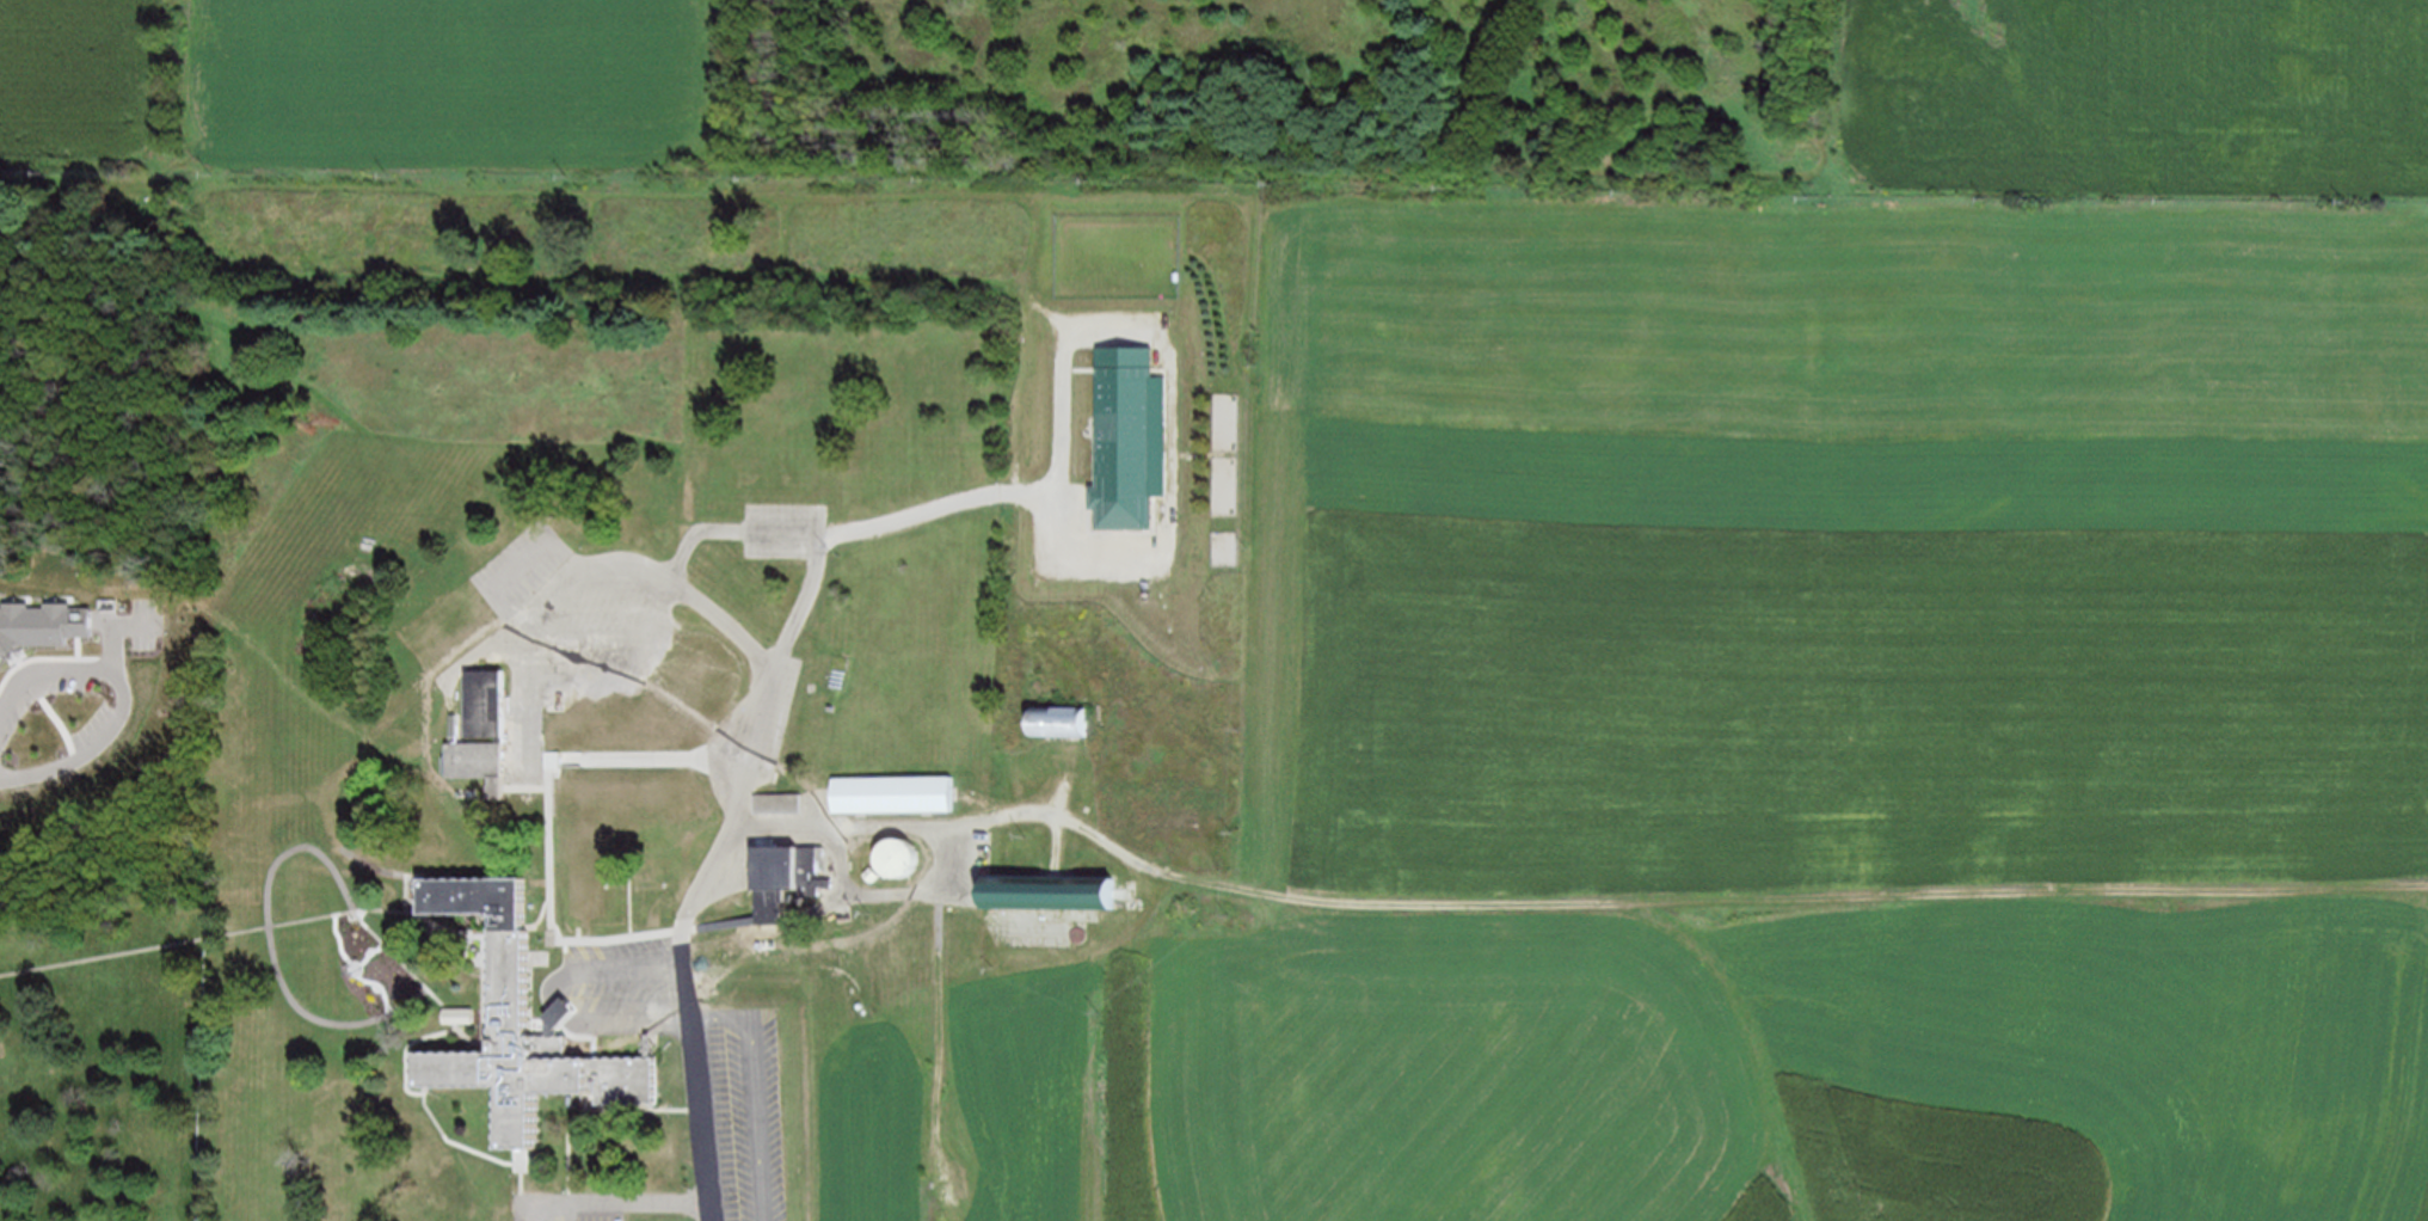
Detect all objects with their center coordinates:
park: (112, 197)
building: (1125, 438)
road: (877, 529)
road: (729, 530)
parking lot: (786, 530)
building: (38, 631)
road: (438, 667)
road: (564, 693)
road: (117, 694)
building: (488, 702)
building: (1058, 723)
building: (484, 762)
building: (695, 787)
building: (892, 793)
building: (780, 803)
road: (744, 820)
road: (903, 828)
parking lot: (727, 851)
road: (643, 855)
building: (908, 855)
building: (783, 876)
building: (1057, 889)
road: (900, 895)
road: (1738, 908)
road: (551, 912)
road: (177, 941)
road: (578, 999)
road: (488, 1019)
building: (535, 1023)
park: (102, 1059)
road: (406, 1072)
road: (763, 1092)
road: (586, 1109)
road: (626, 1205)
parking lot: (548, 1208)

